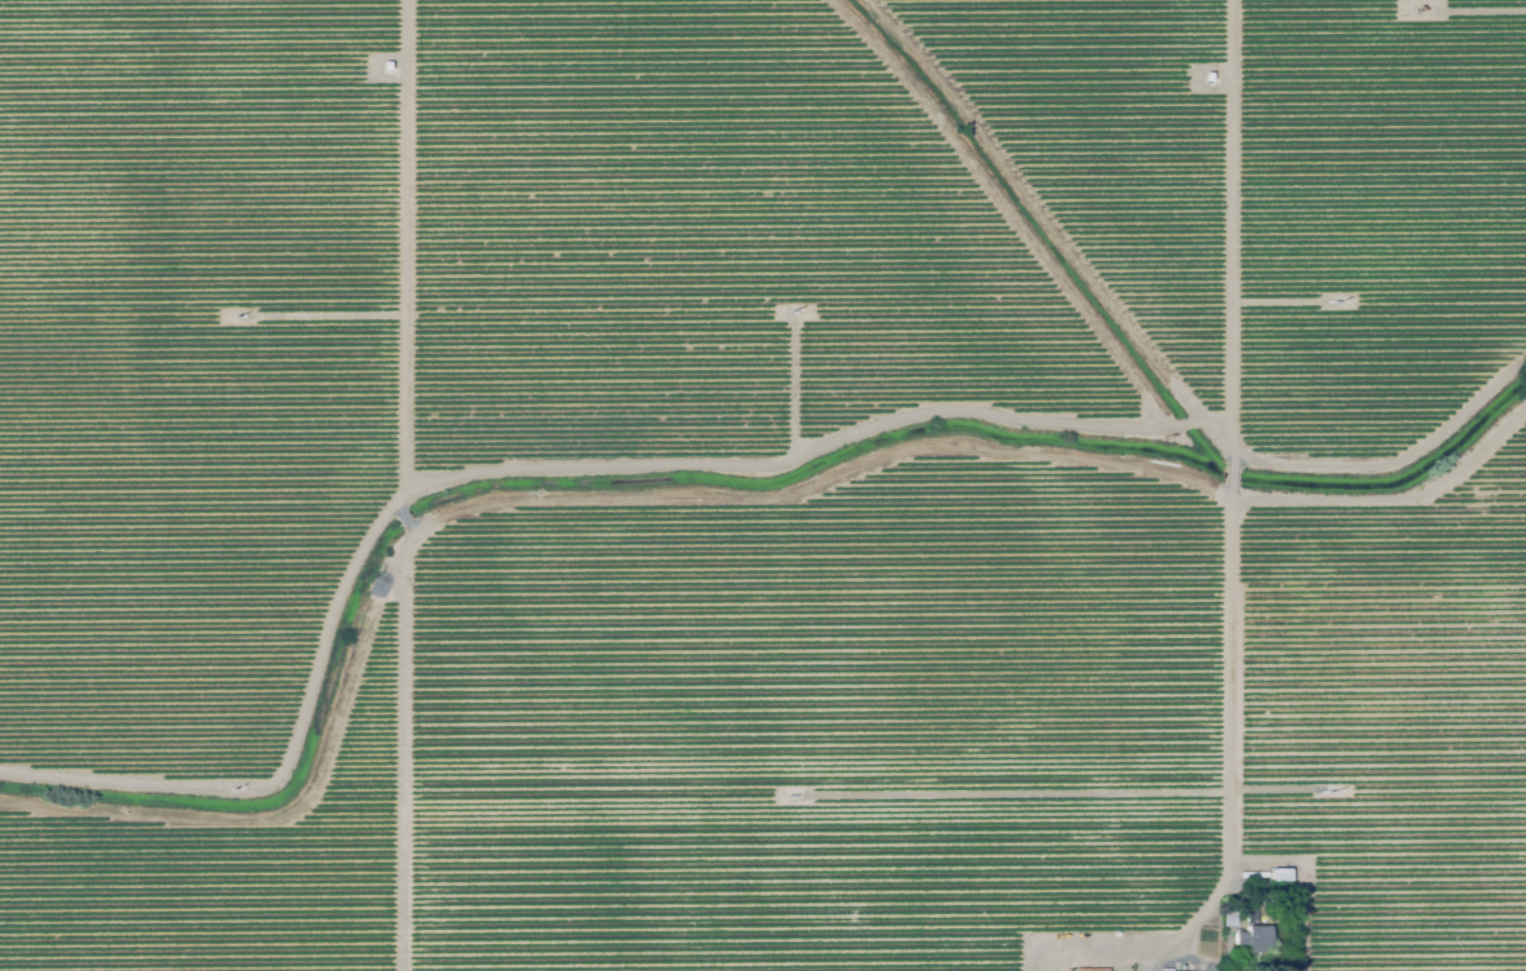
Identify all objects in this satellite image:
building: (383, 69)
building: (1204, 78)
road: (1233, 657)
building: (1279, 874)
building: (1230, 914)
building: (1250, 915)
building: (1254, 940)
building: (1090, 970)

